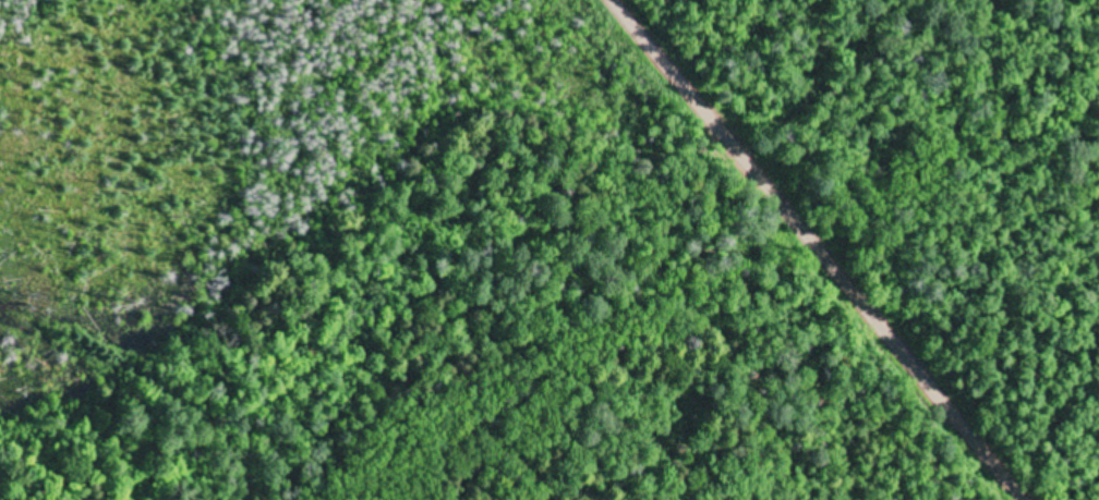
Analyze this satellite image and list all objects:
road: (814, 251)

